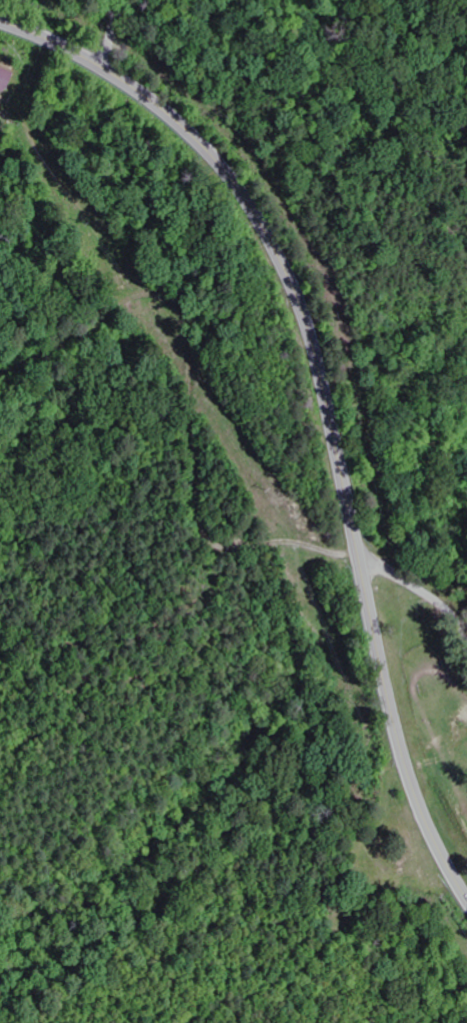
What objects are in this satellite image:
road: (49, 24)
road: (112, 34)
road: (324, 398)
road: (419, 576)

